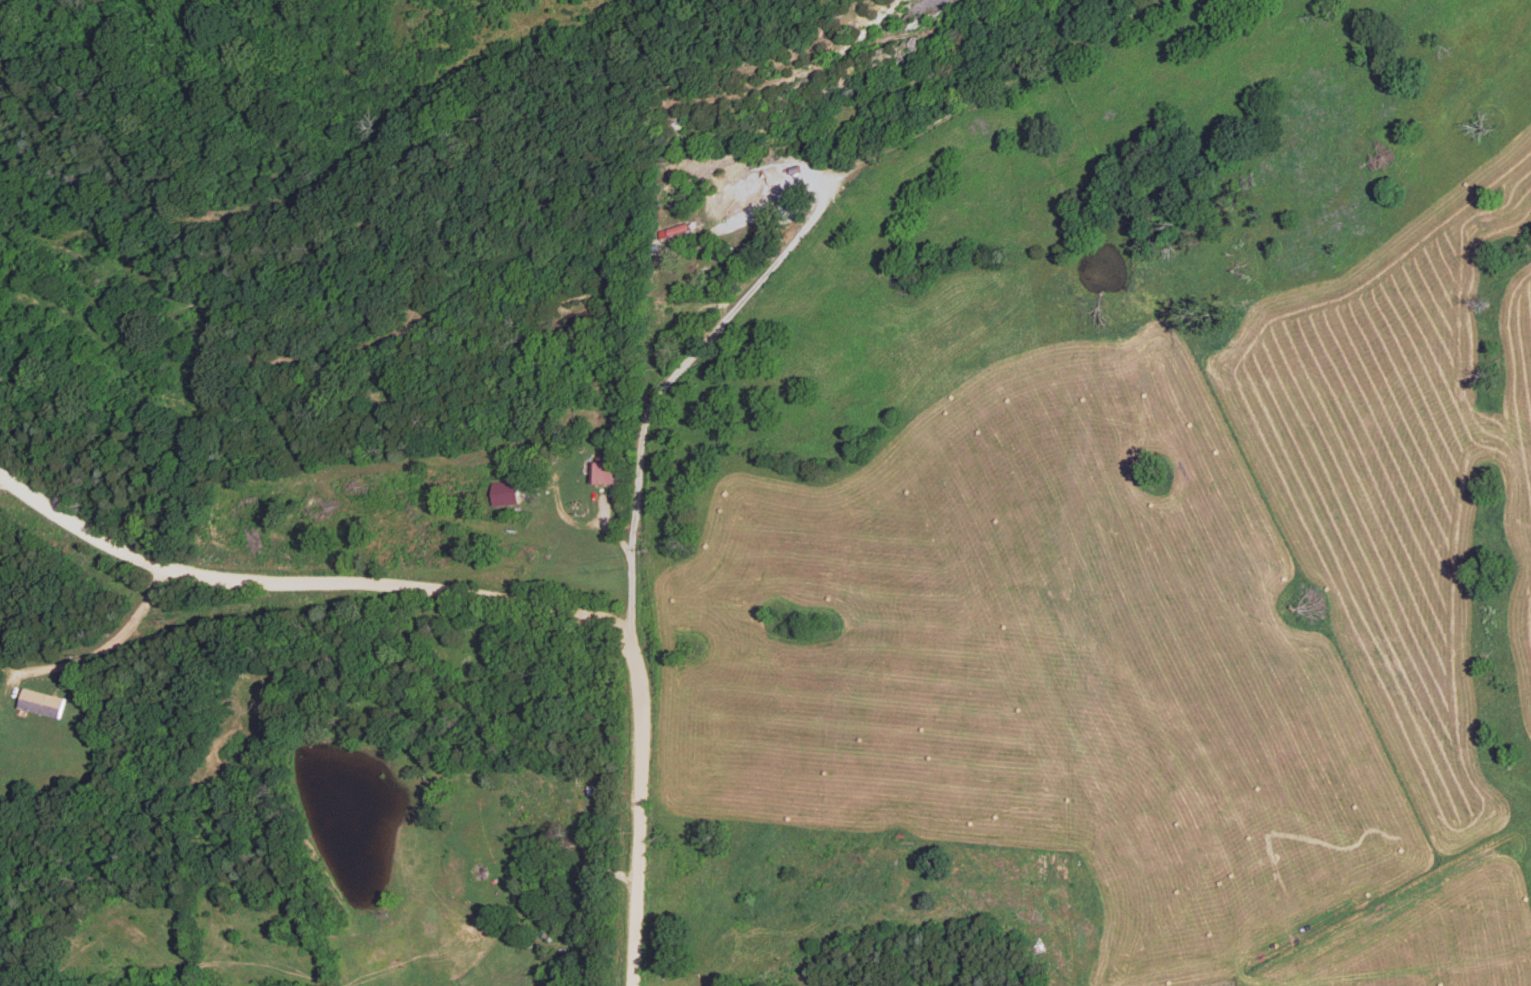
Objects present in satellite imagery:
road: (675, 374)
building: (603, 474)
building: (504, 492)
road: (480, 591)
road: (112, 640)
building: (39, 702)
road: (358, 819)

